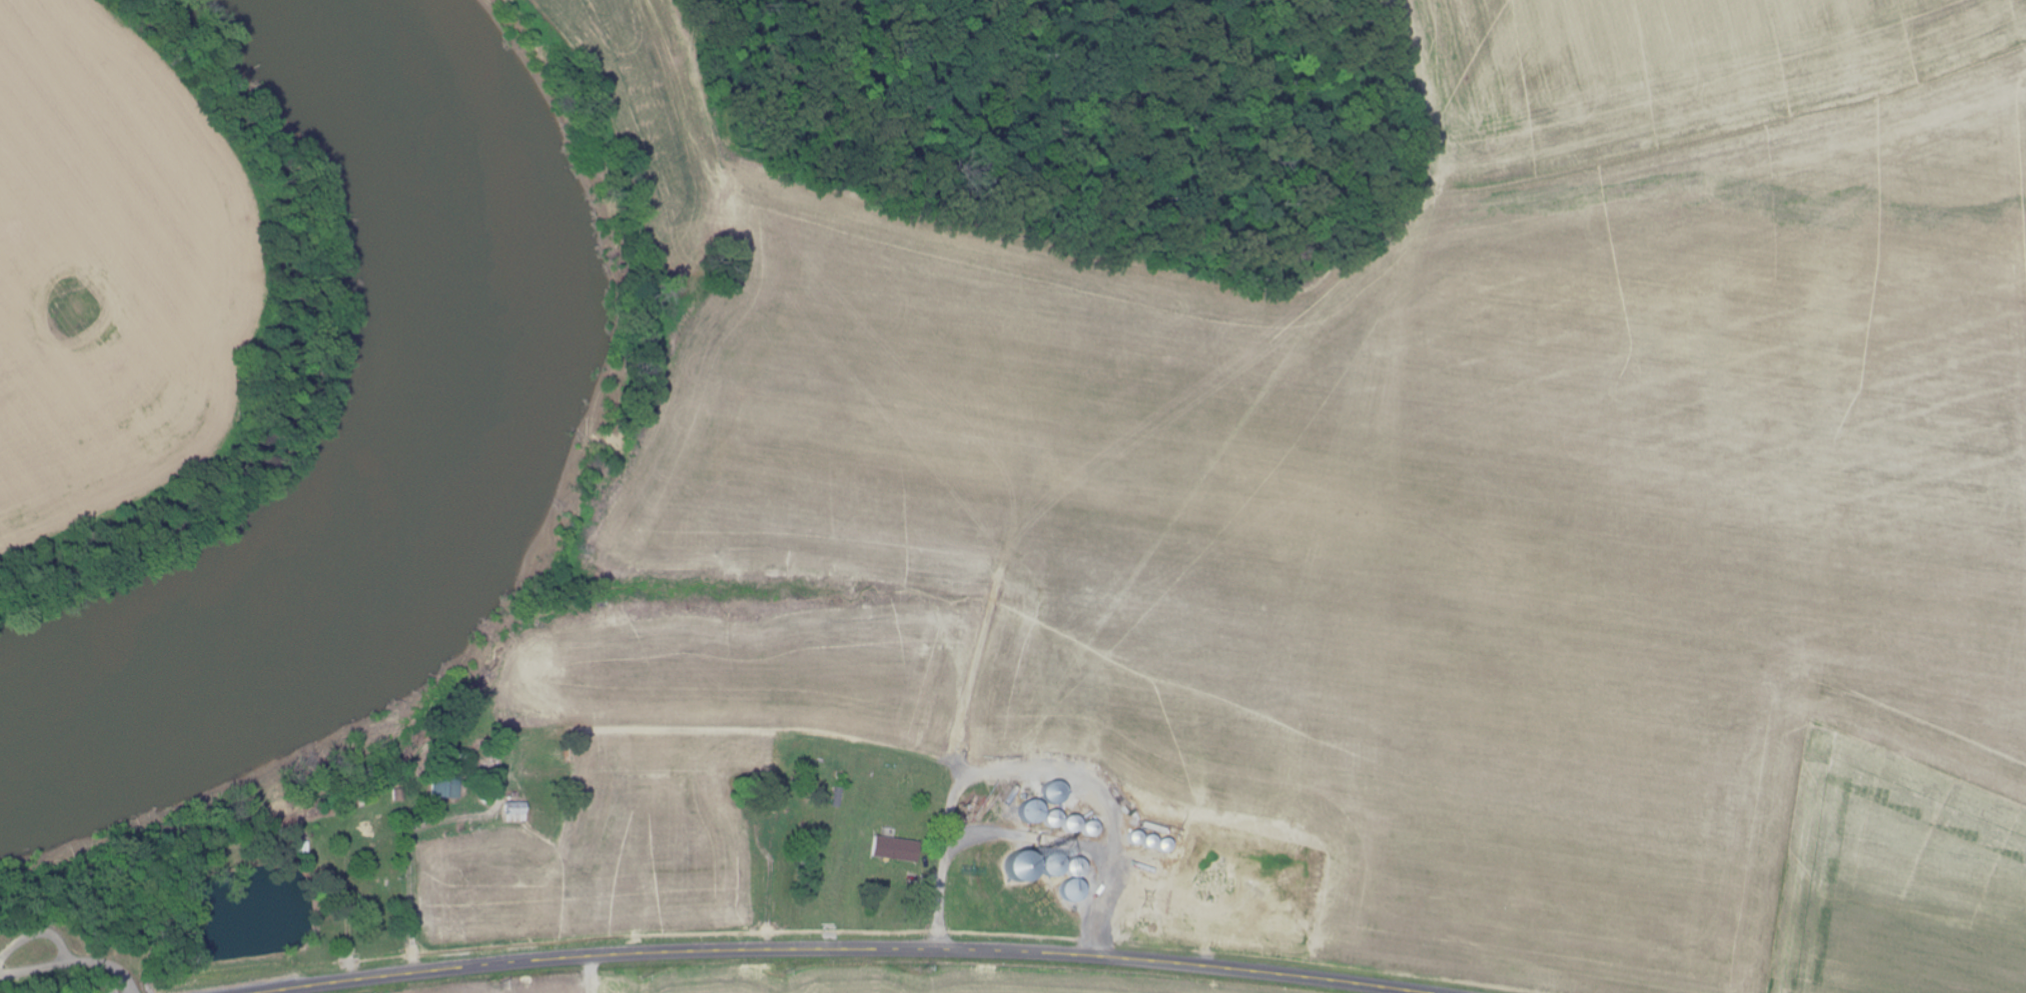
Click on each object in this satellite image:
river: (401, 474)
building: (900, 849)
road: (844, 951)

